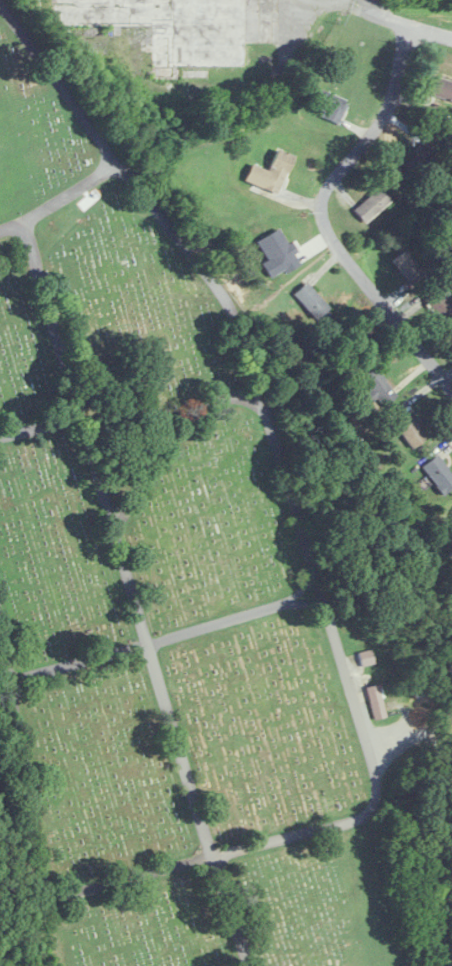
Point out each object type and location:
road: (400, 16)
building: (169, 27)
building: (441, 90)
building: (331, 106)
road: (102, 137)
building: (424, 155)
building: (278, 171)
building: (372, 204)
road: (318, 211)
building: (408, 268)
building: (312, 301)
road: (248, 366)
building: (376, 383)
road: (39, 427)
building: (410, 431)
road: (173, 445)
building: (439, 474)
park: (169, 588)
road: (133, 594)
building: (381, 700)
road: (357, 708)
road: (31, 805)

